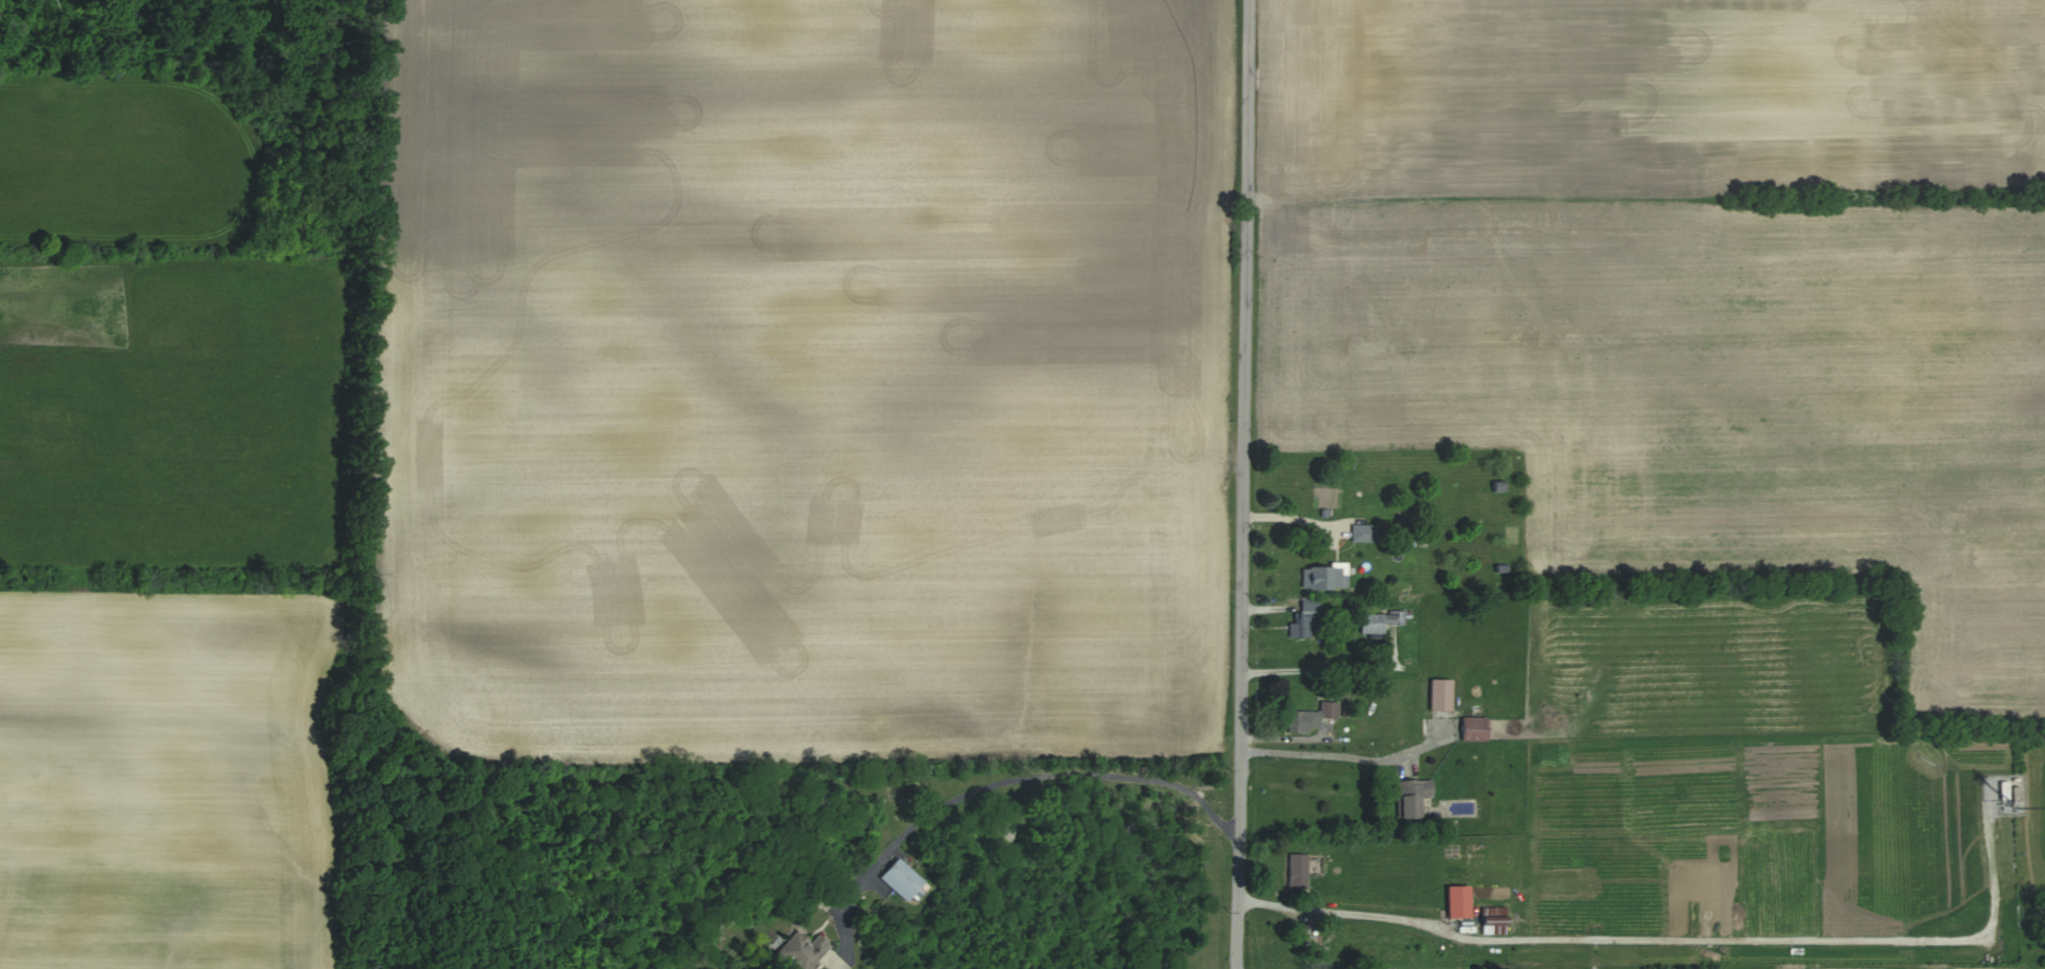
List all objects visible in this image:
road: (1242, 484)
building: (1499, 486)
building: (1363, 532)
building: (1323, 576)
building: (1304, 618)
building: (1379, 621)
road: (1315, 667)
building: (1441, 694)
building: (1310, 718)
building: (1474, 728)
road: (1338, 756)
road: (1002, 782)
building: (2000, 790)
building: (1411, 797)
building: (1297, 870)
building: (902, 880)
building: (1459, 901)
road: (1669, 941)
building: (802, 951)

